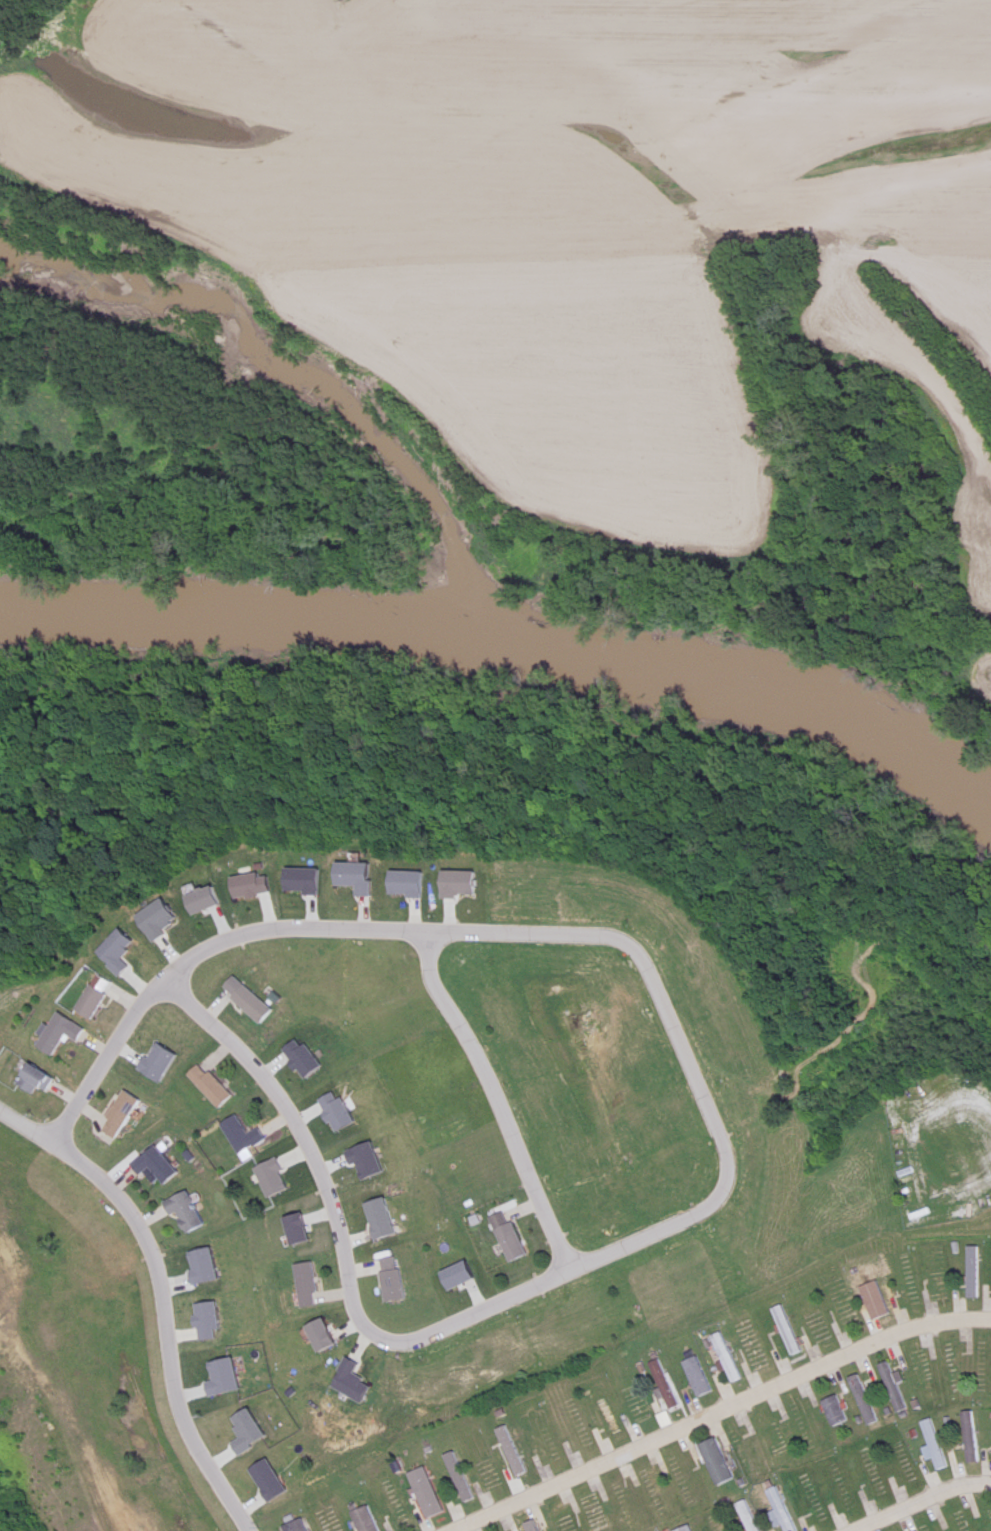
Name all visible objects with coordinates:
river: (513, 634)
road: (191, 951)
building: (247, 999)
building: (90, 1001)
building: (57, 1033)
road: (678, 1050)
building: (31, 1078)
building: (208, 1086)
road: (494, 1100)
building: (117, 1113)
road: (21, 1126)
building: (240, 1135)
building: (151, 1164)
building: (181, 1211)
building: (512, 1237)
road: (335, 1238)
building: (971, 1271)
building: (302, 1284)
road: (153, 1324)
building: (783, 1335)
building: (727, 1357)
building: (698, 1377)
building: (663, 1384)
building: (890, 1387)
building: (861, 1400)
building: (833, 1411)
road: (714, 1414)
building: (605, 1417)
building: (970, 1437)
building: (934, 1444)
building: (715, 1462)
building: (454, 1479)
road: (921, 1503)
building: (780, 1510)
building: (746, 1516)
building: (360, 1520)
building: (290, 1525)
building: (686, 1529)

